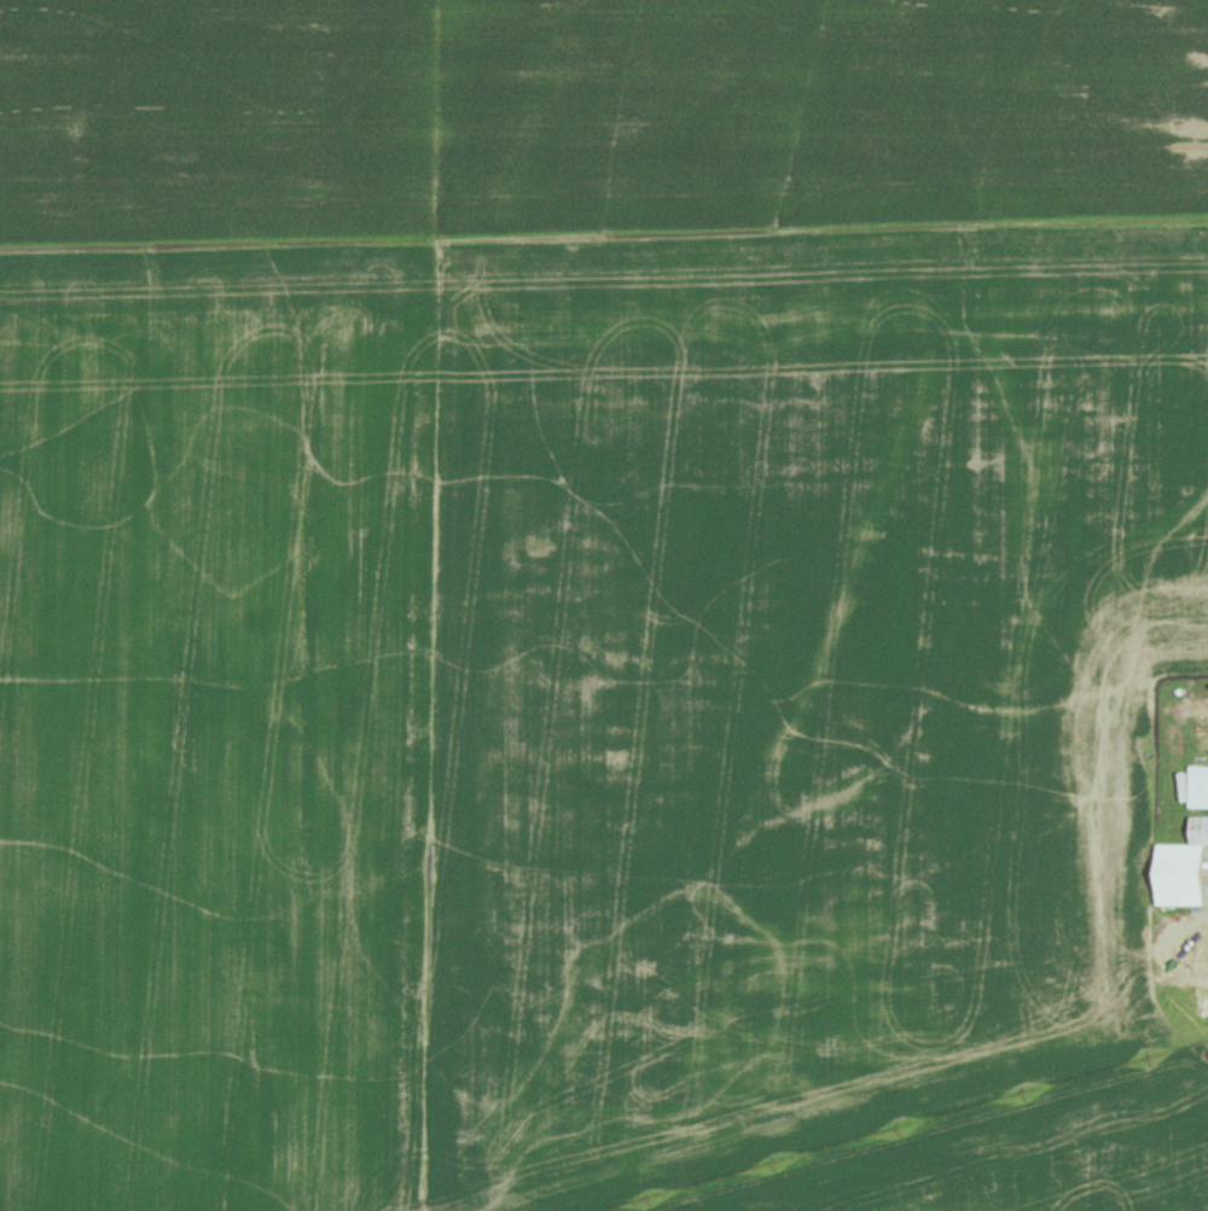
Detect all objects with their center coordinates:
building: (1201, 788)
building: (1186, 872)

